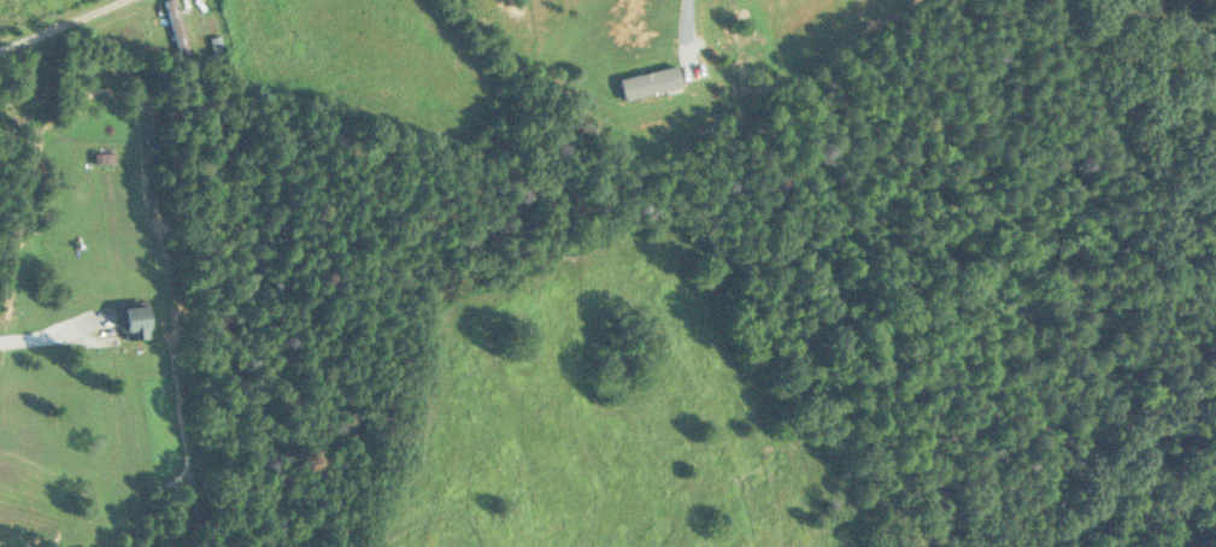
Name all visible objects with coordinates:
road: (64, 25)
road: (691, 29)
road: (51, 334)

